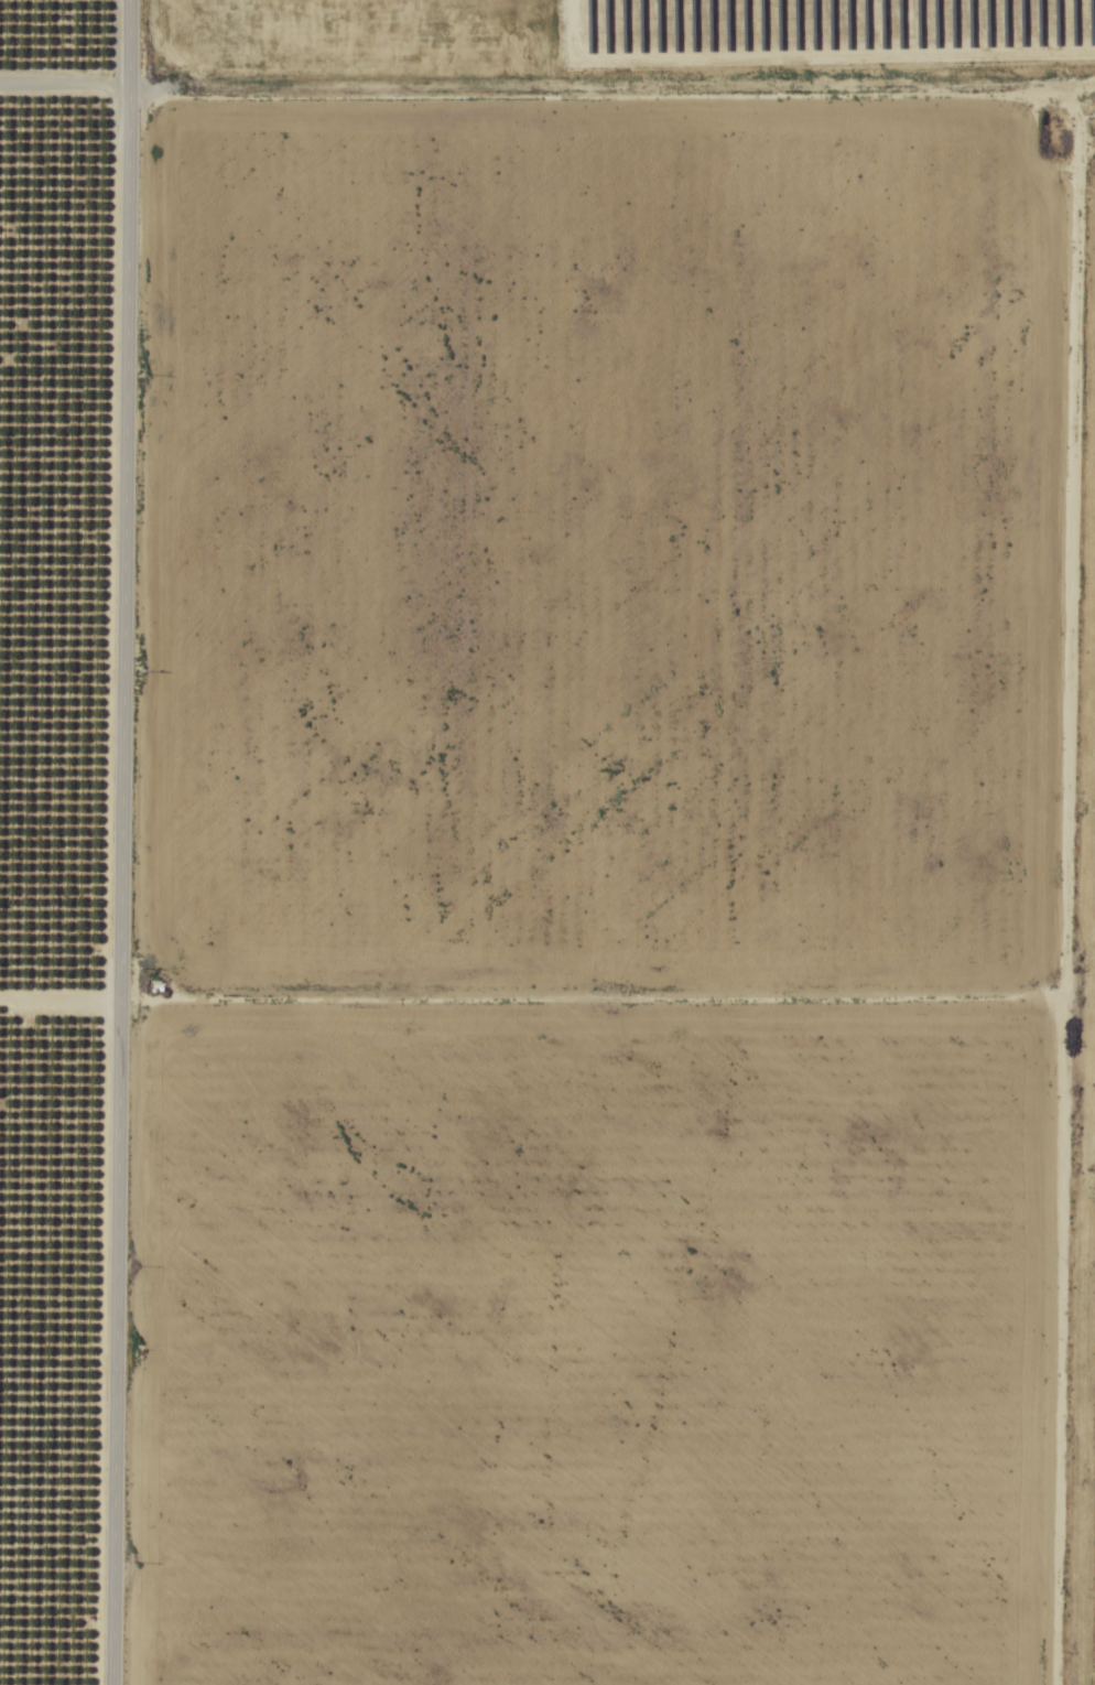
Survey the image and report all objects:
road: (547, 53)
road: (121, 842)
road: (1016, 868)
crop: (605, 898)
solar farm: (1077, 900)
road: (508, 964)

